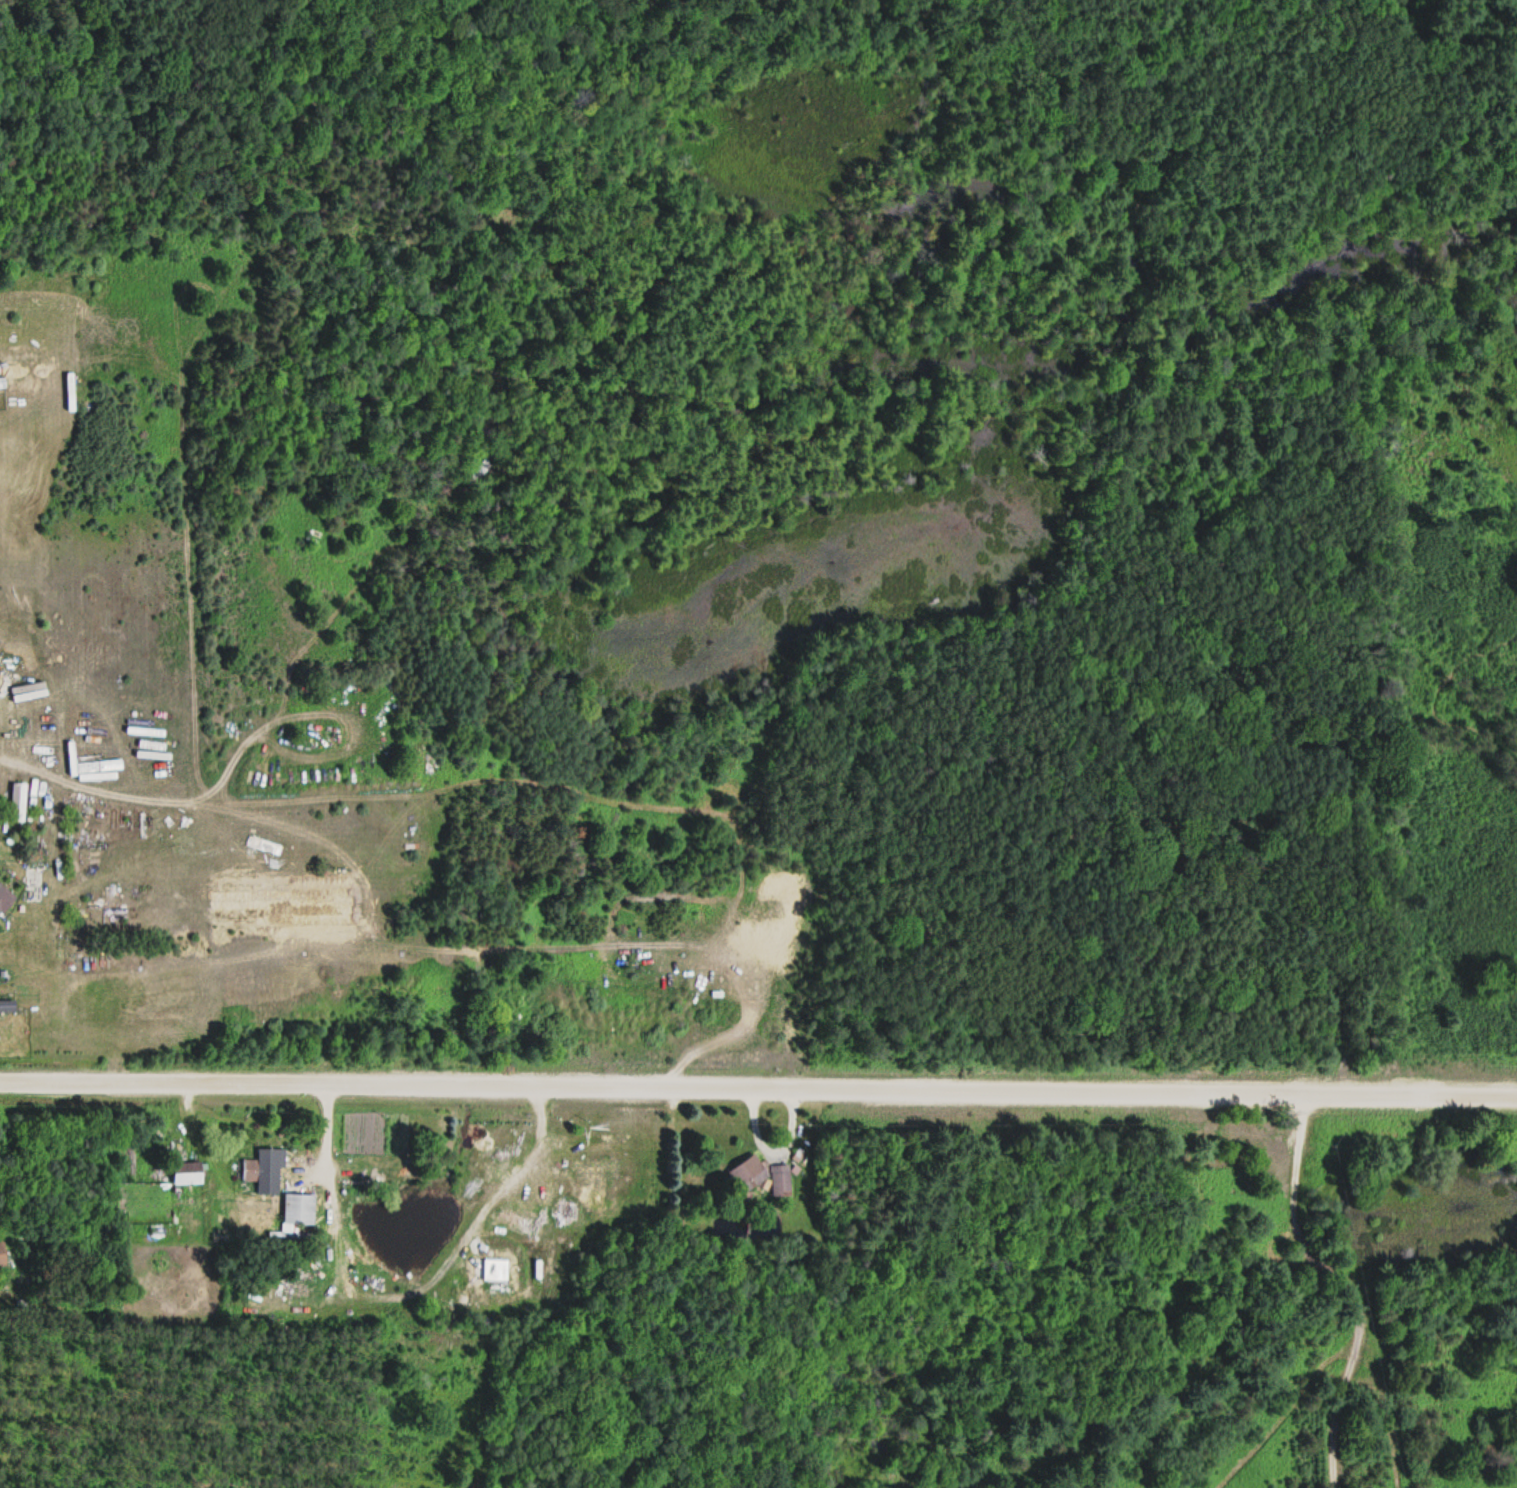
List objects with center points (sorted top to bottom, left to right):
building: (2, 385)
building: (18, 803)
building: (5, 900)
road: (758, 1088)
building: (261, 1170)
building: (597, 1171)
building: (188, 1173)
building: (749, 1174)
building: (781, 1181)
building: (298, 1212)
building: (2, 1256)
road: (1341, 1285)

